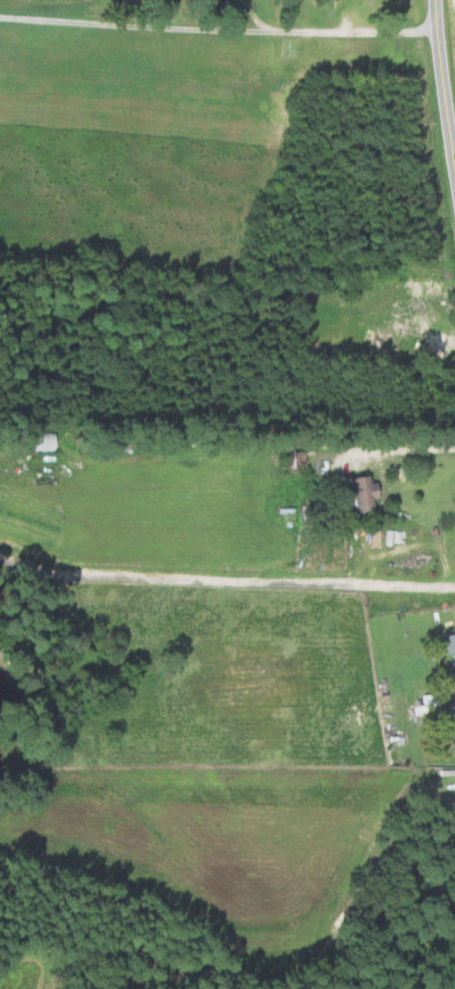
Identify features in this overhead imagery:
road: (256, 18)
road: (216, 32)
park: (287, 46)
road: (442, 92)
road: (400, 450)
building: (357, 492)
road: (226, 579)
building: (447, 647)
road: (454, 703)
building: (454, 733)

